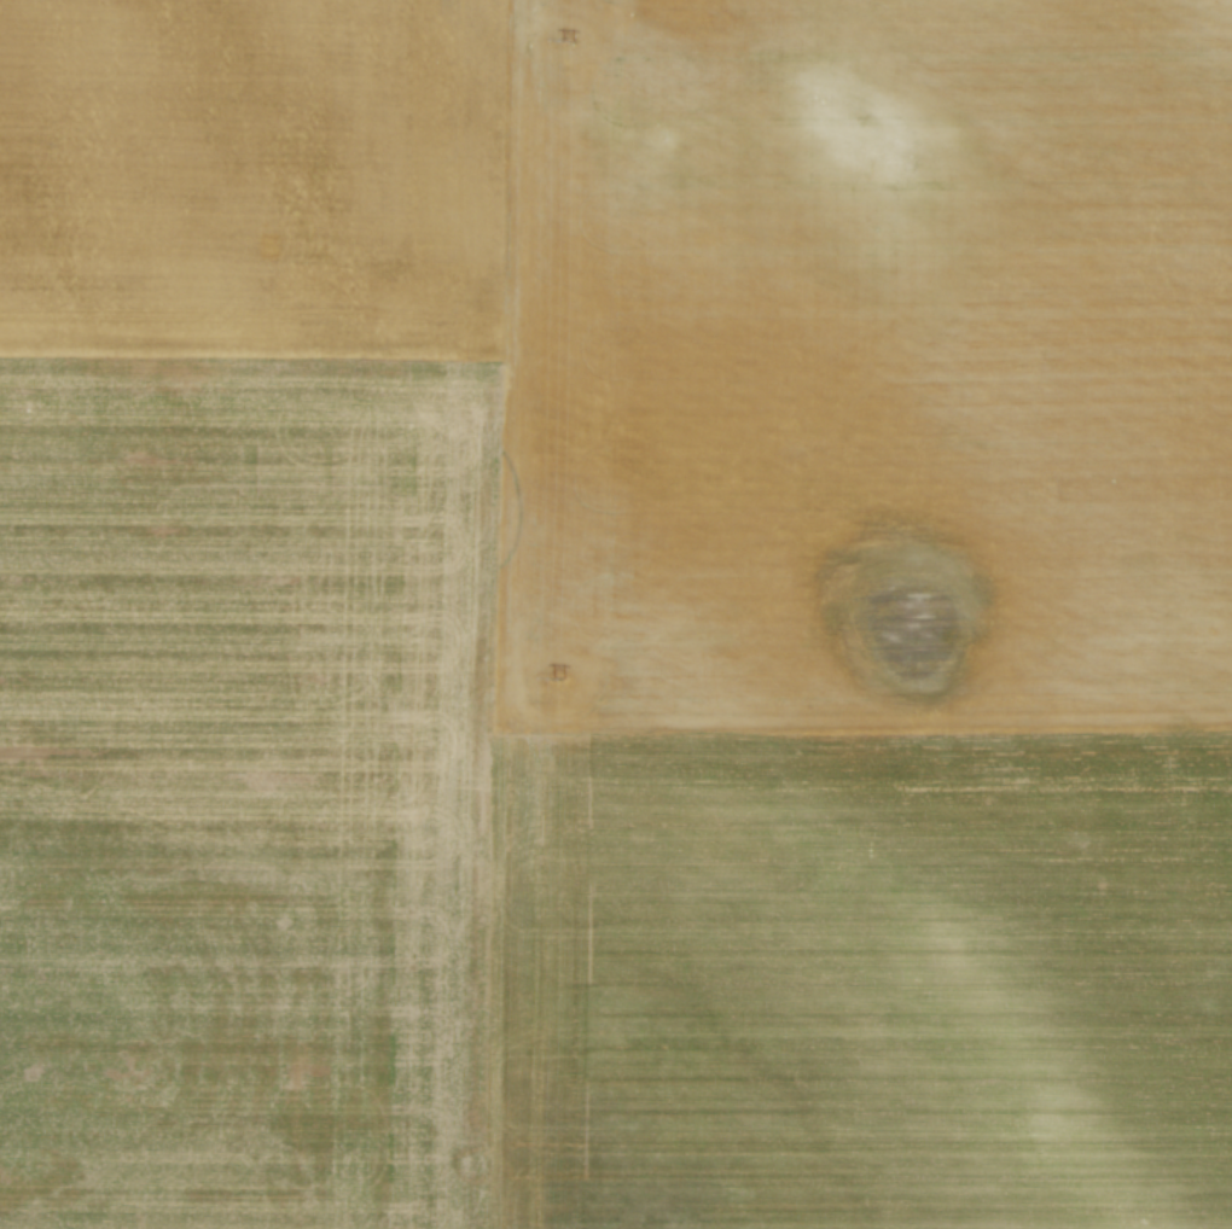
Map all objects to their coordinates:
power tower: (568, 41)
crop: (616, 614)
power tower: (557, 677)

